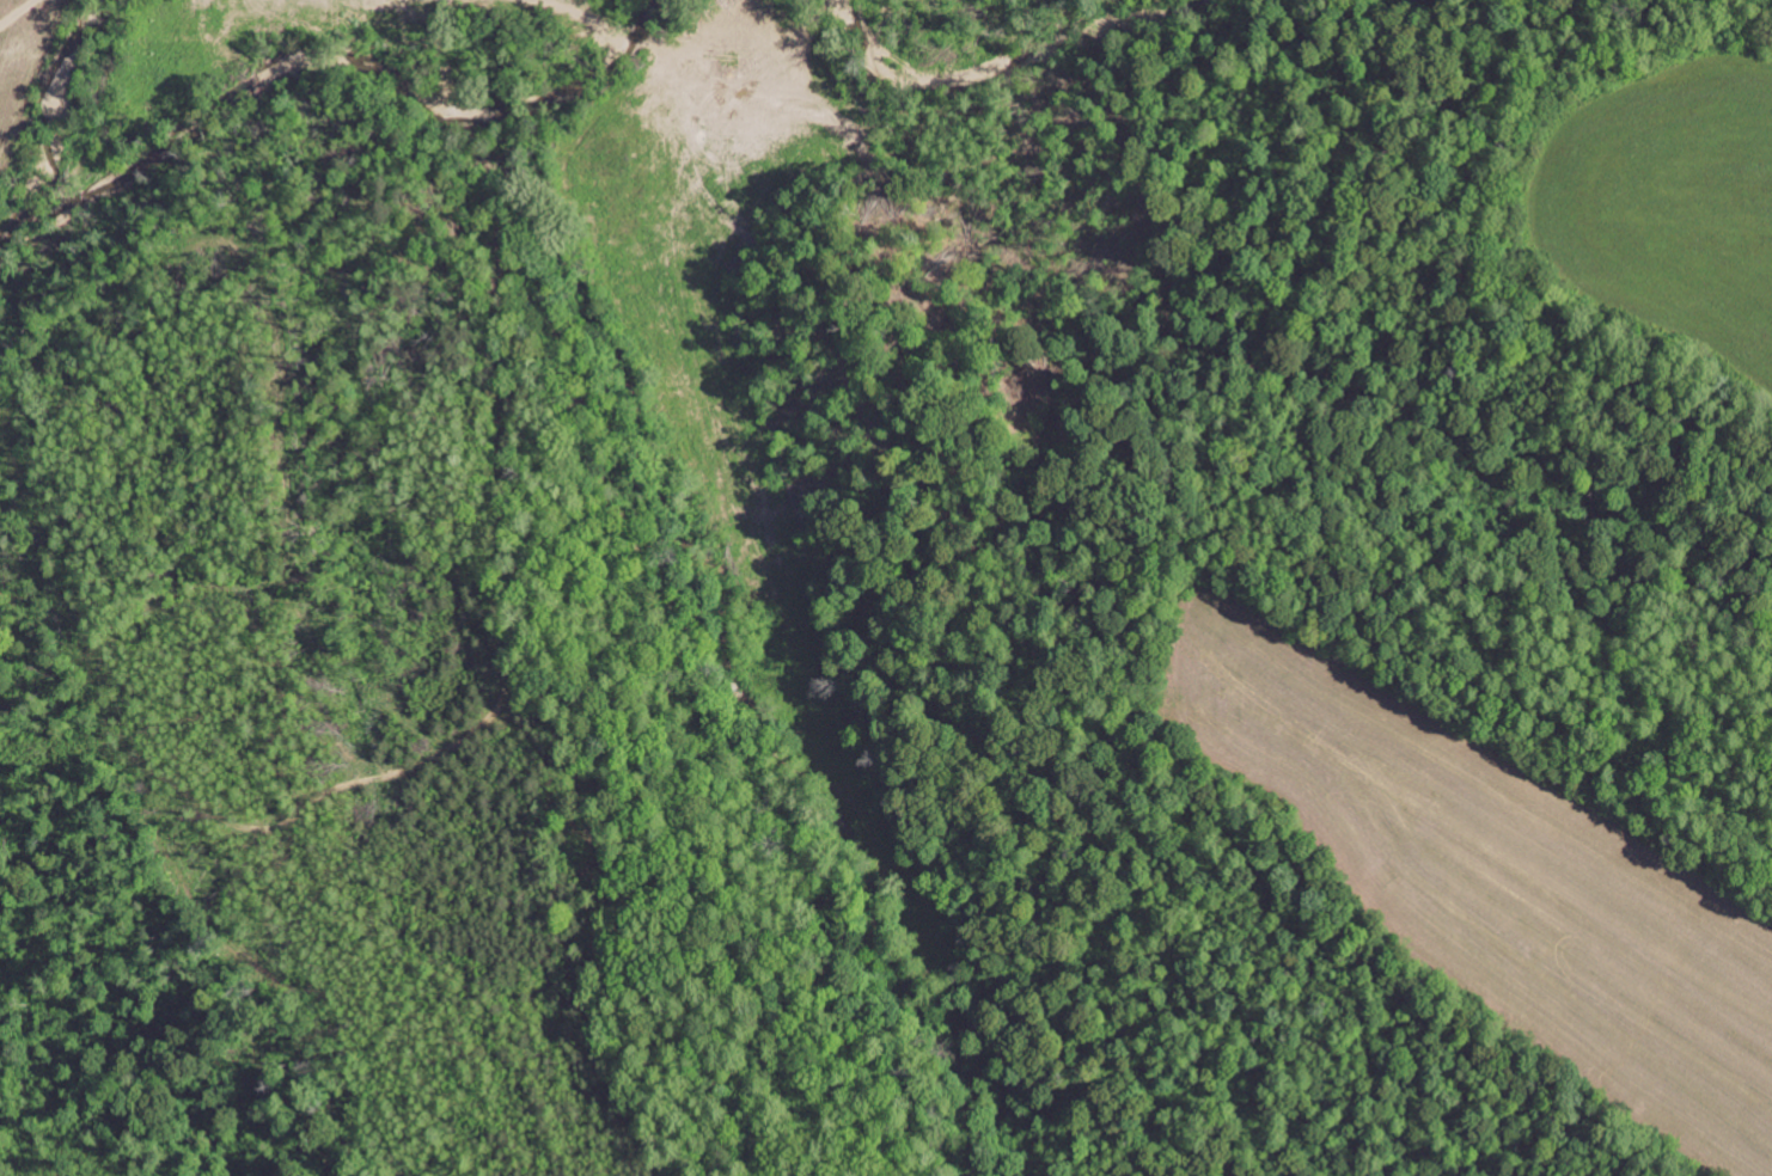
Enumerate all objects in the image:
road: (1128, 4)

